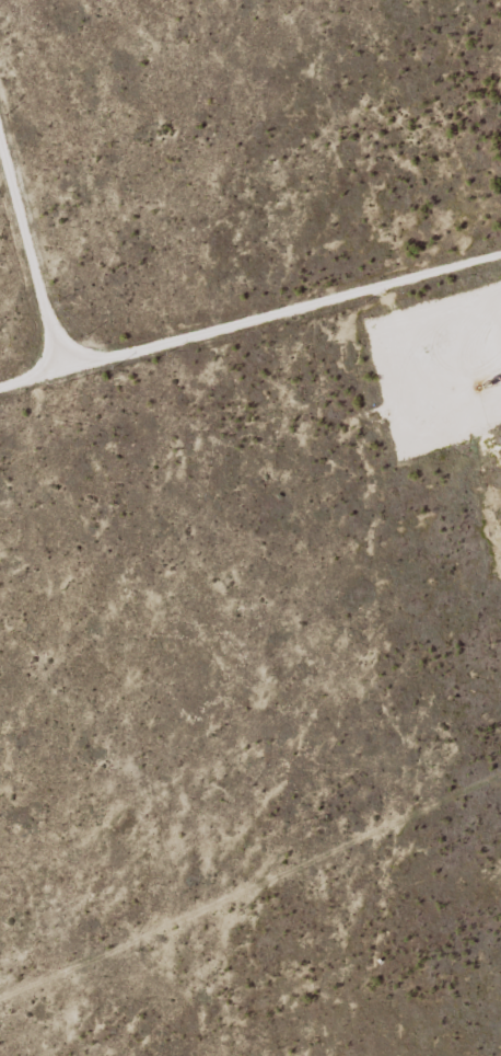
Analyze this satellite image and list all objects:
road: (255, 894)

